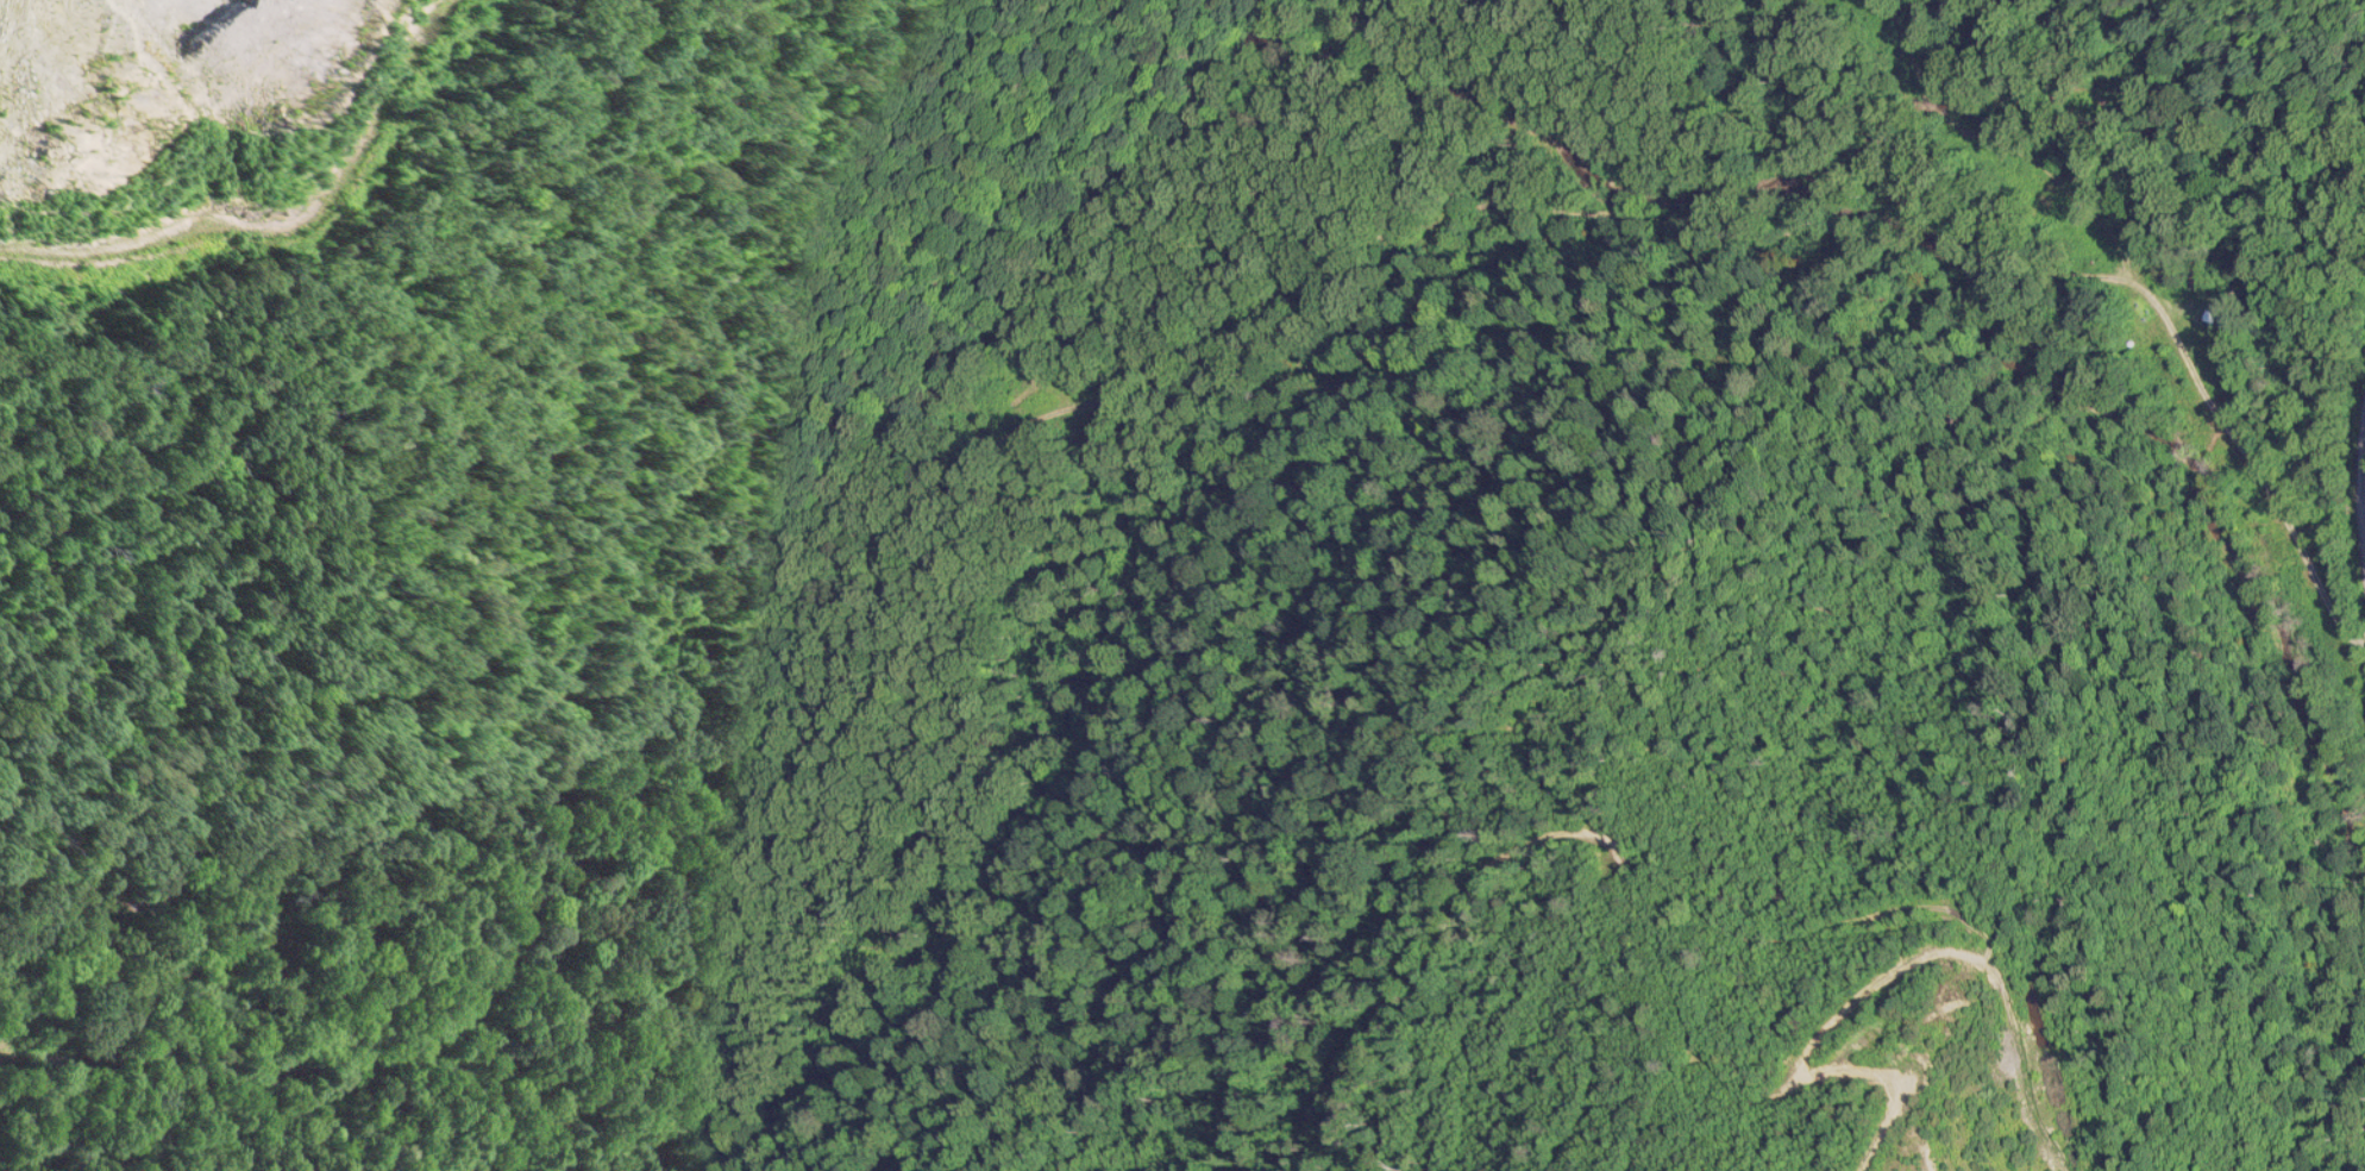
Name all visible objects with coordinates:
road: (2329, 531)
quarry: (1182, 585)

